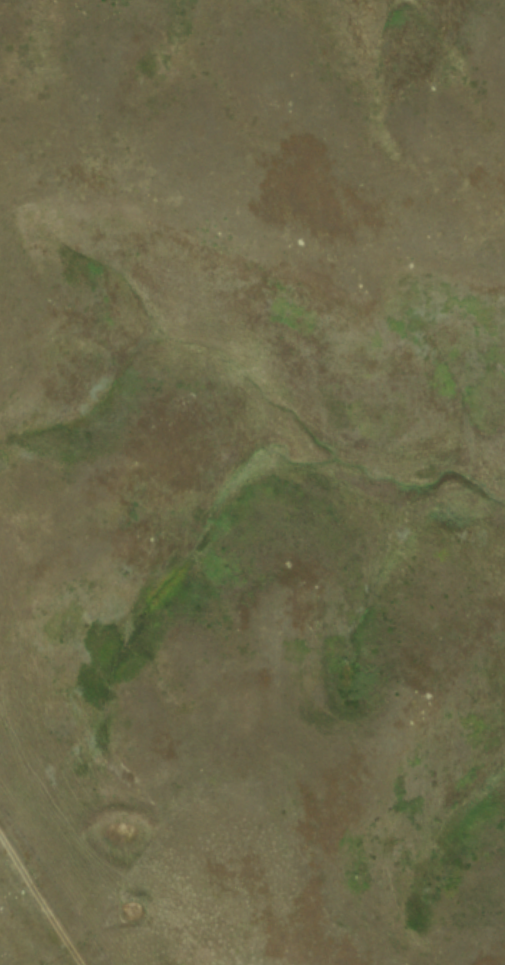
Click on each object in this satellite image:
road: (69, 886)

